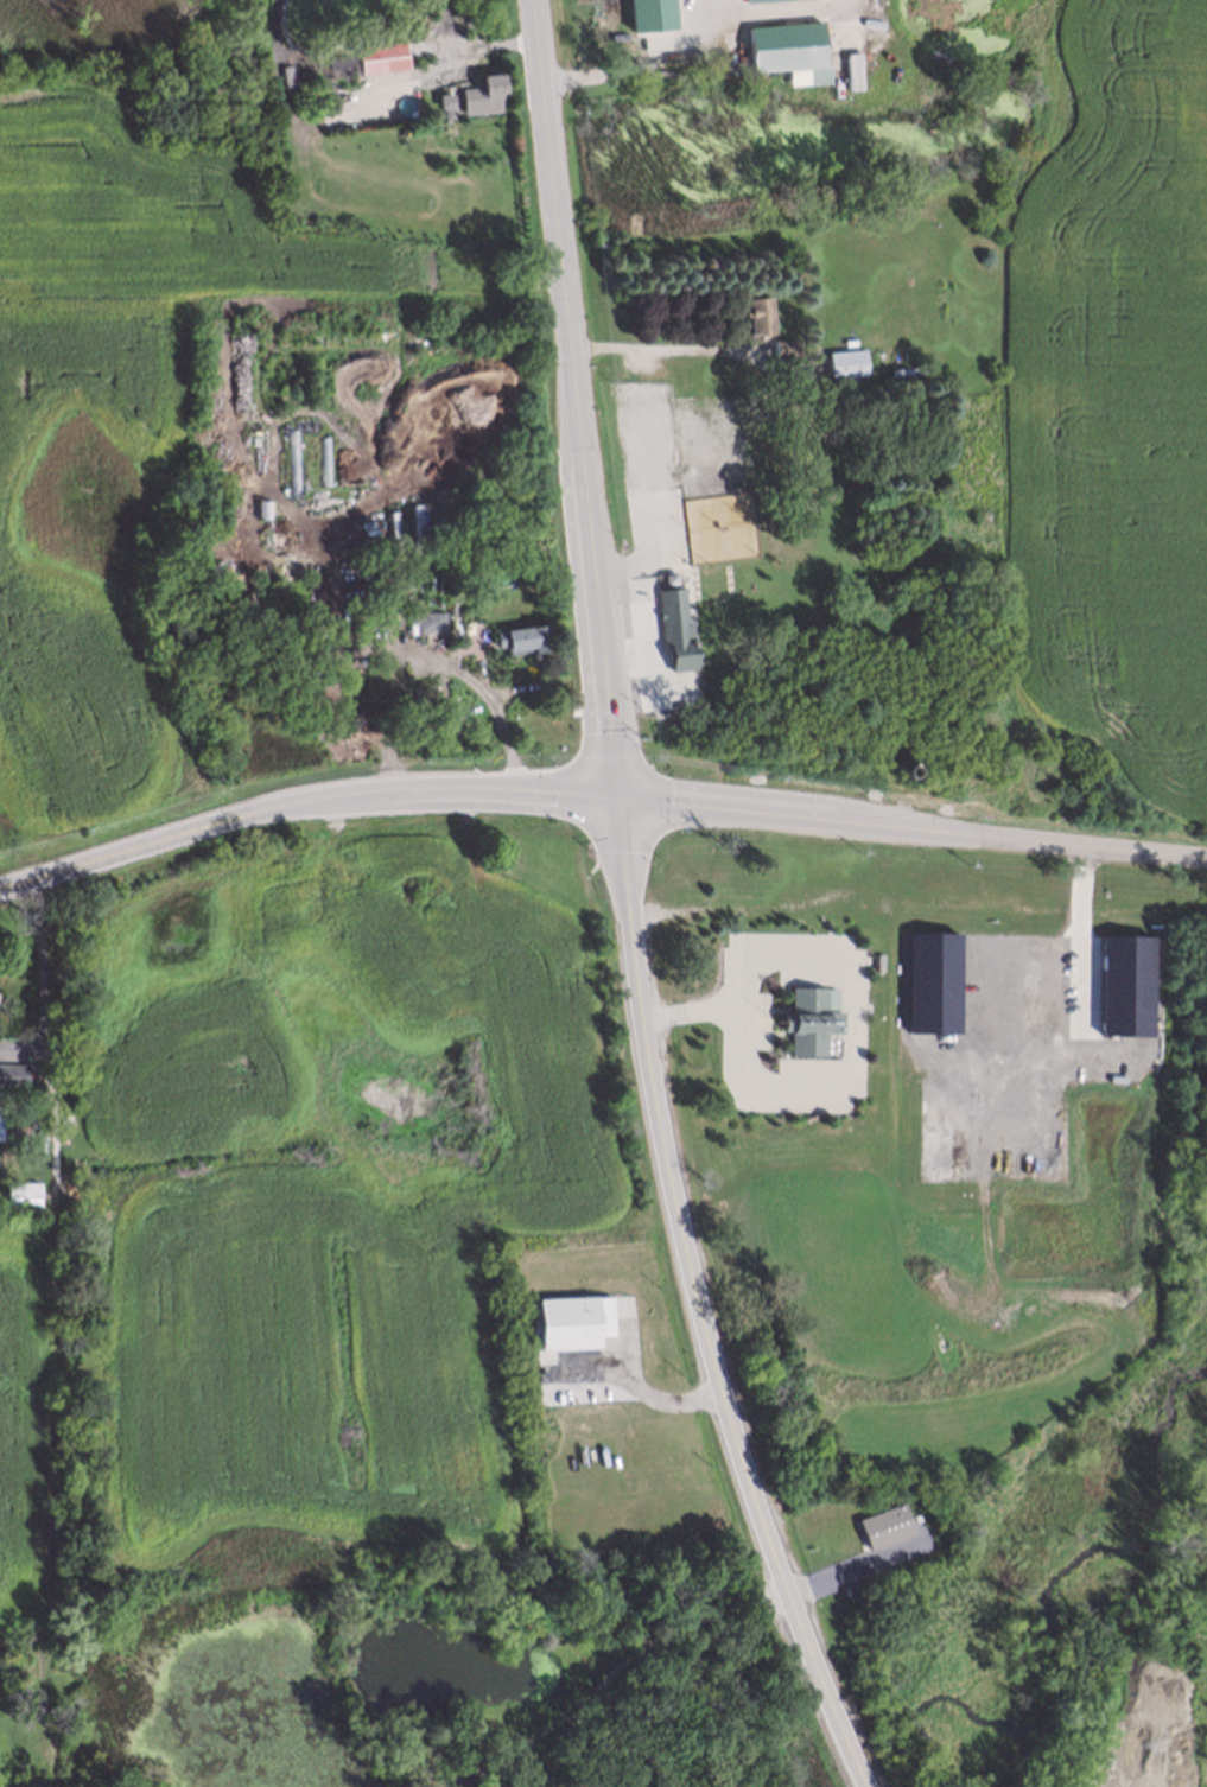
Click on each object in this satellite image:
building: (768, 1)
road: (707, 13)
building: (652, 15)
building: (595, 26)
road: (690, 38)
building: (787, 49)
building: (385, 61)
road: (447, 63)
building: (855, 71)
building: (482, 91)
road: (551, 190)
building: (758, 313)
building: (781, 345)
road: (659, 348)
building: (849, 365)
building: (291, 462)
road: (593, 590)
building: (427, 619)
building: (673, 627)
building: (517, 637)
building: (425, 691)
road: (491, 700)
building: (935, 723)
building: (907, 761)
road: (449, 790)
traffic signals: (617, 801)
road: (790, 819)
road: (140, 847)
road: (1085, 847)
road: (628, 897)
road: (1073, 950)
road: (43, 965)
building: (938, 977)
building: (1126, 986)
road: (703, 1006)
building: (812, 1022)
building: (14, 1075)
building: (1, 1124)
building: (23, 1195)
building: (574, 1323)
road: (640, 1393)
road: (725, 1398)
building: (885, 1526)
road: (852, 1567)
road: (673, 1632)
road: (528, 1740)
road: (564, 1748)
building: (464, 1776)

